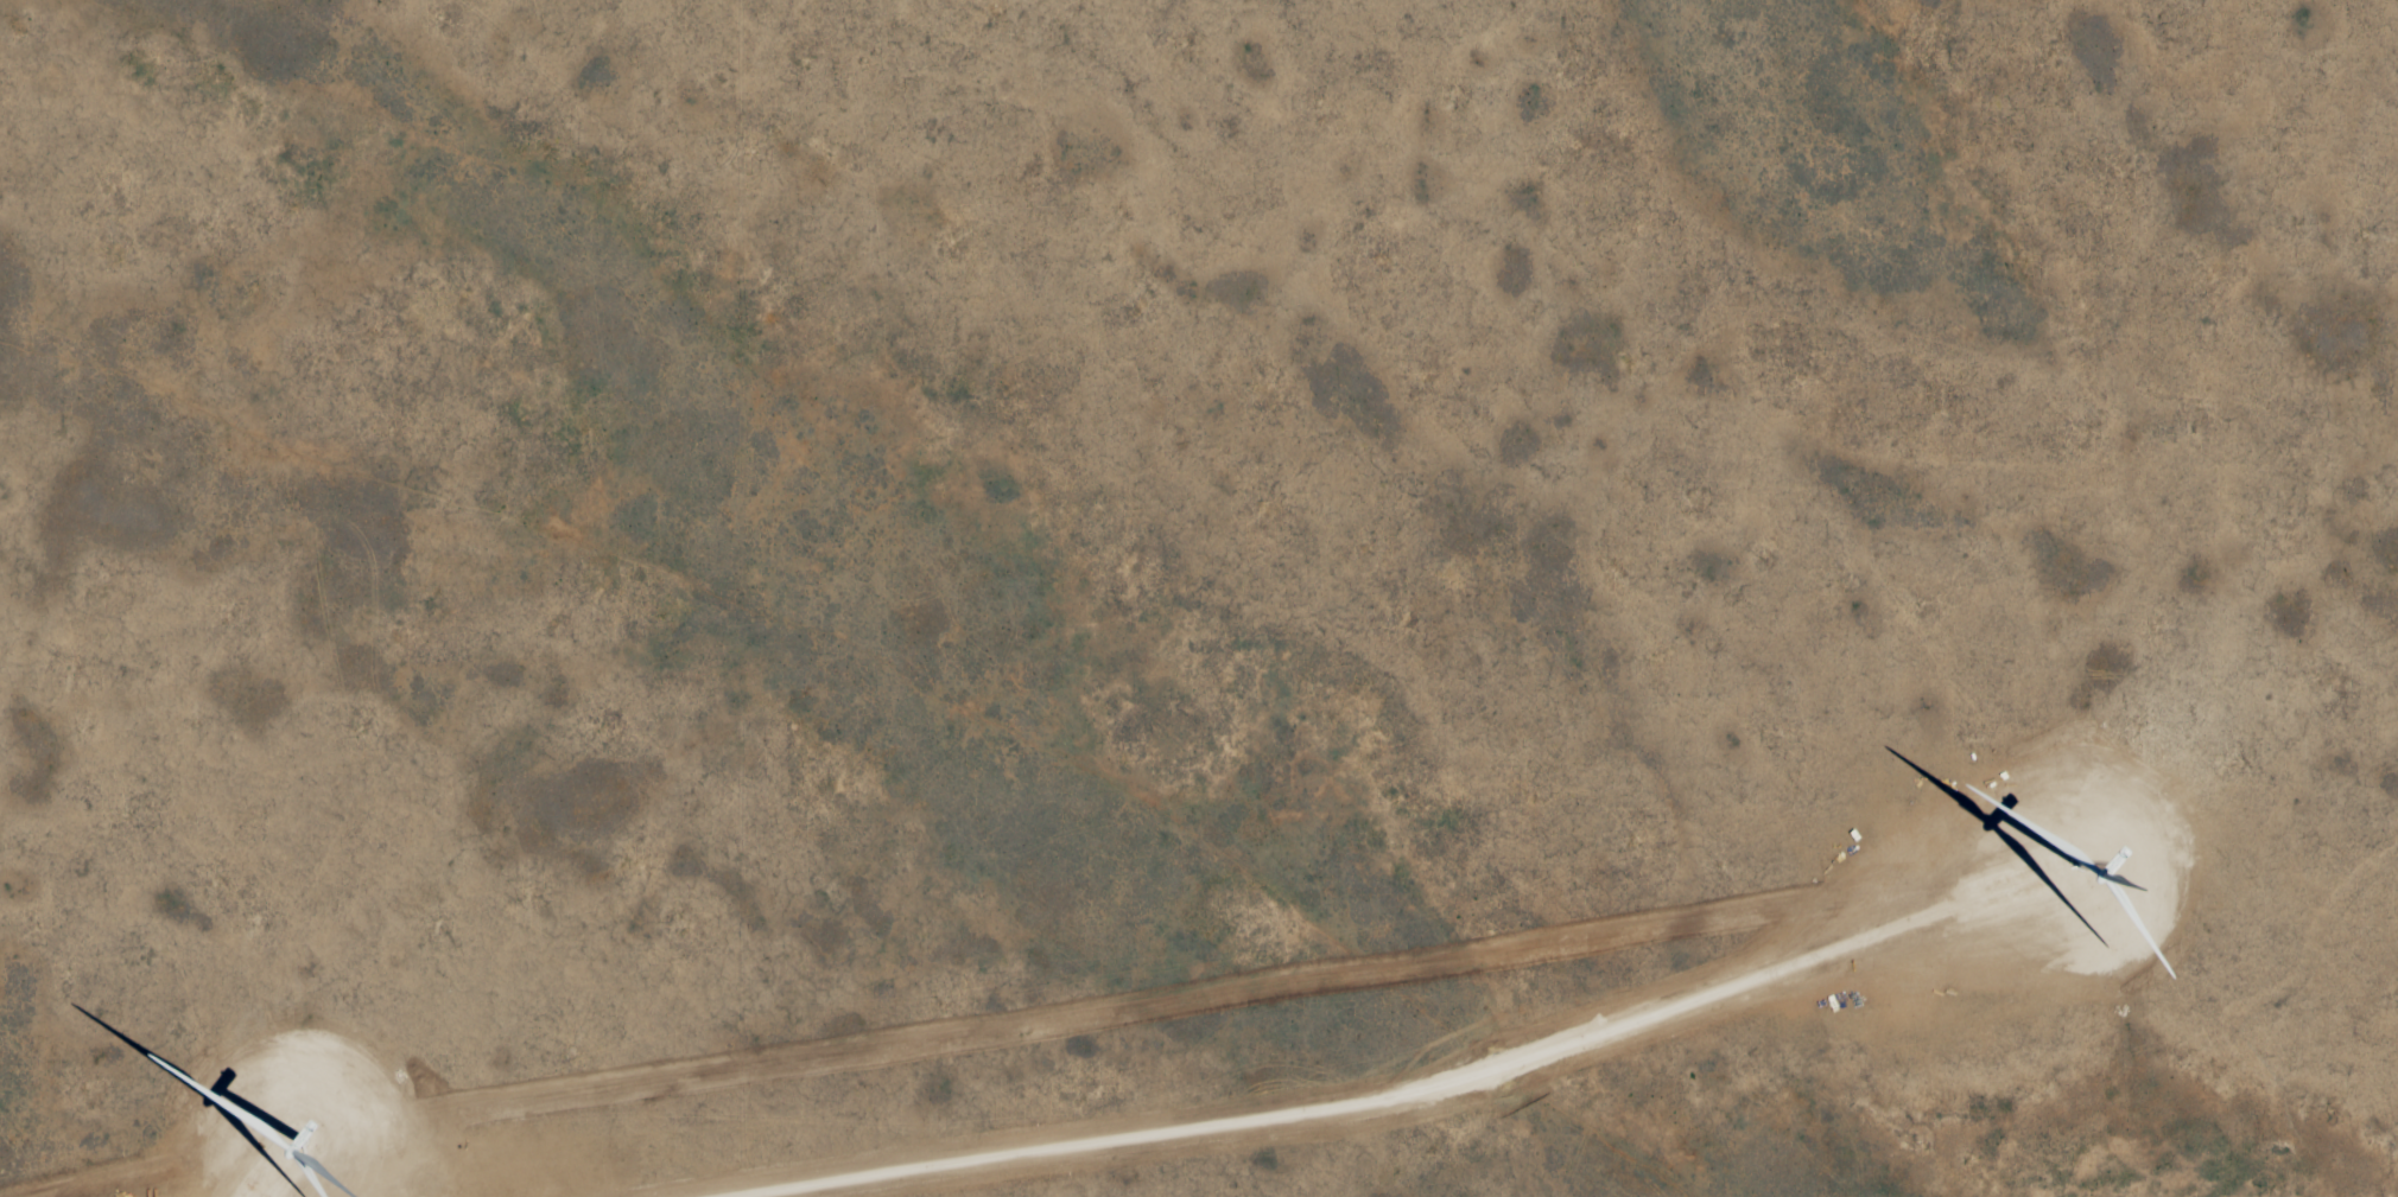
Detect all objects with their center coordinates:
wind turbine: (2067, 870)
wind turbine: (291, 1135)

